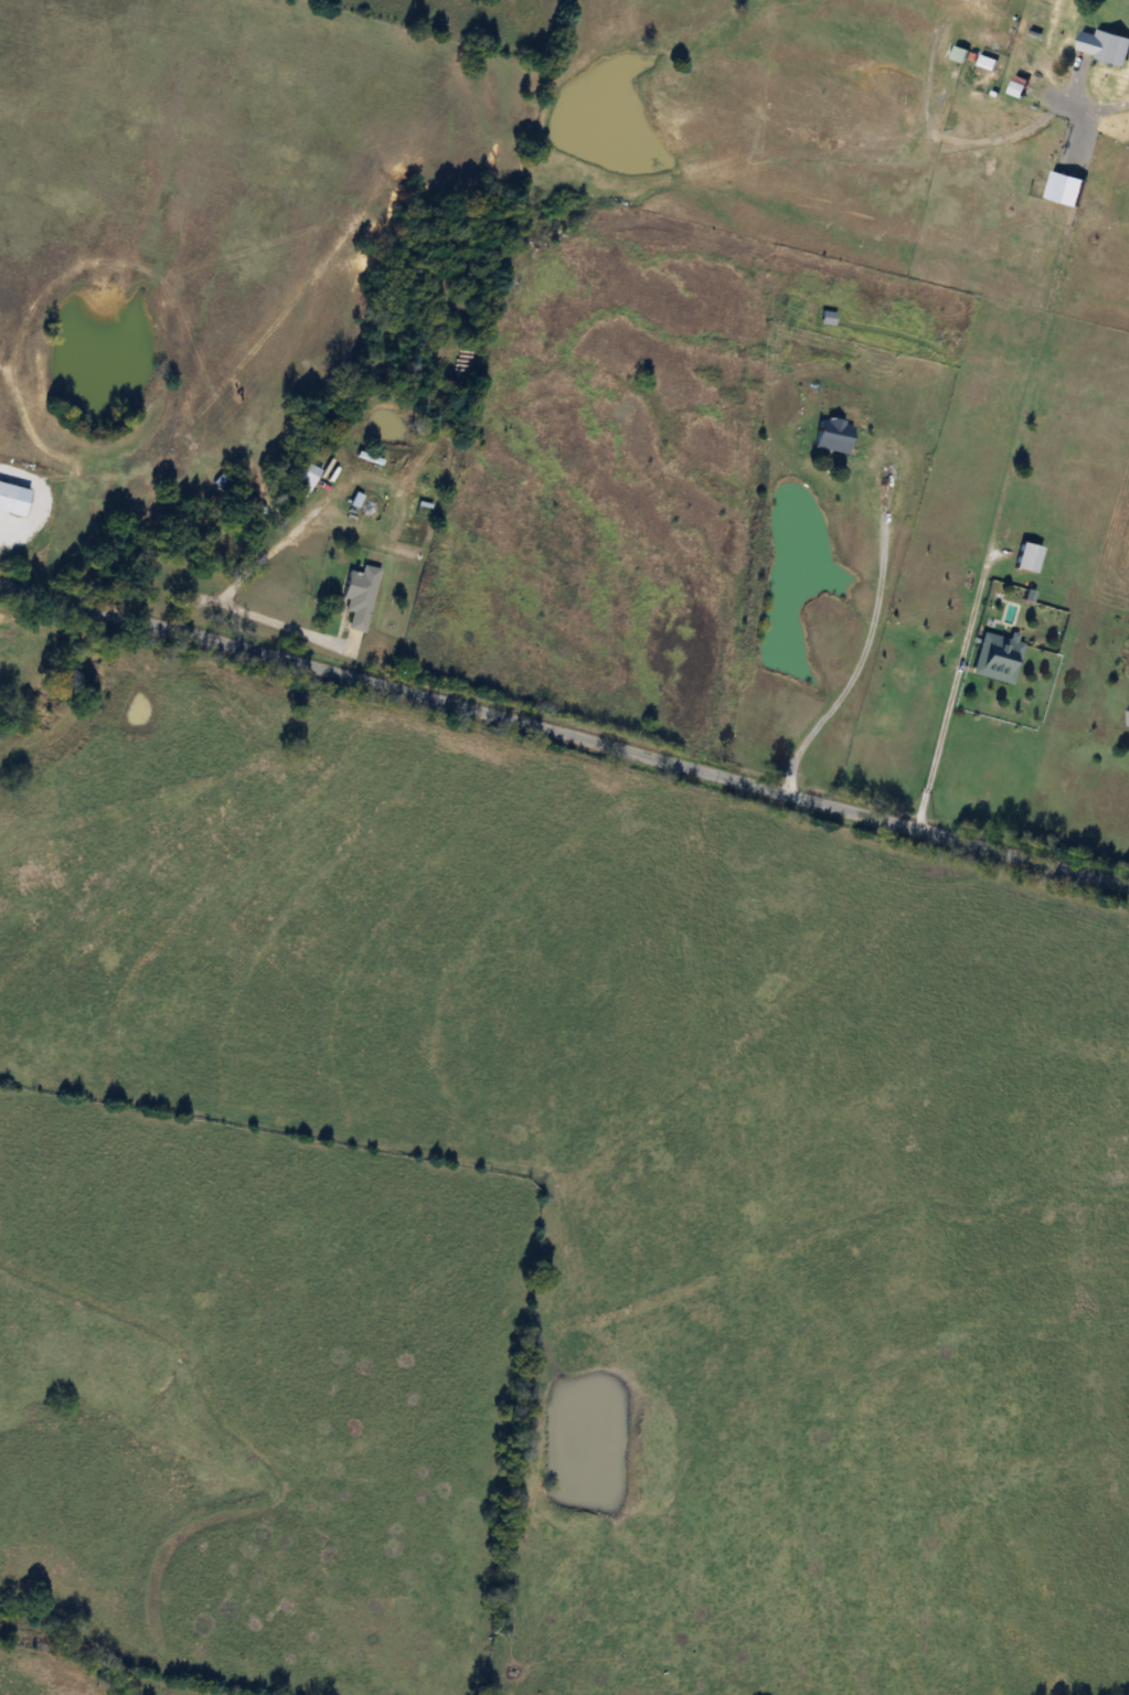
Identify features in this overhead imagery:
building: (1105, 46)
road: (1105, 105)
building: (832, 435)
building: (303, 479)
building: (1027, 557)
building: (359, 595)
road: (247, 616)
road: (866, 642)
building: (997, 657)
road: (951, 687)
road: (564, 735)

